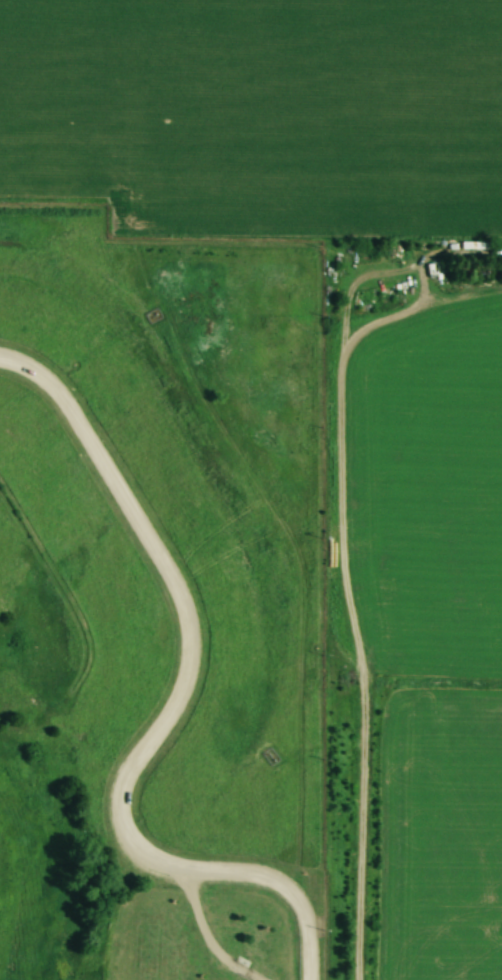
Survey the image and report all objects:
crop: (422, 483)
road: (165, 716)
road: (366, 771)

